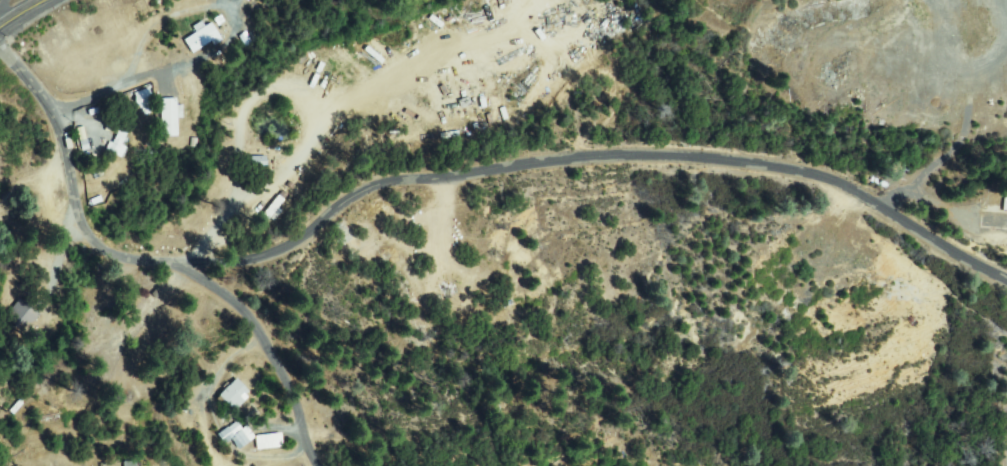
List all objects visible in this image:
building: (248, 0)
road: (22, 14)
building: (201, 38)
building: (144, 98)
building: (170, 118)
building: (118, 142)
building: (258, 162)
road: (593, 162)
building: (998, 202)
building: (270, 211)
building: (980, 219)
road: (149, 261)
building: (134, 297)
building: (22, 315)
building: (91, 317)
building: (233, 394)
building: (235, 435)
building: (268, 441)
building: (129, 463)

